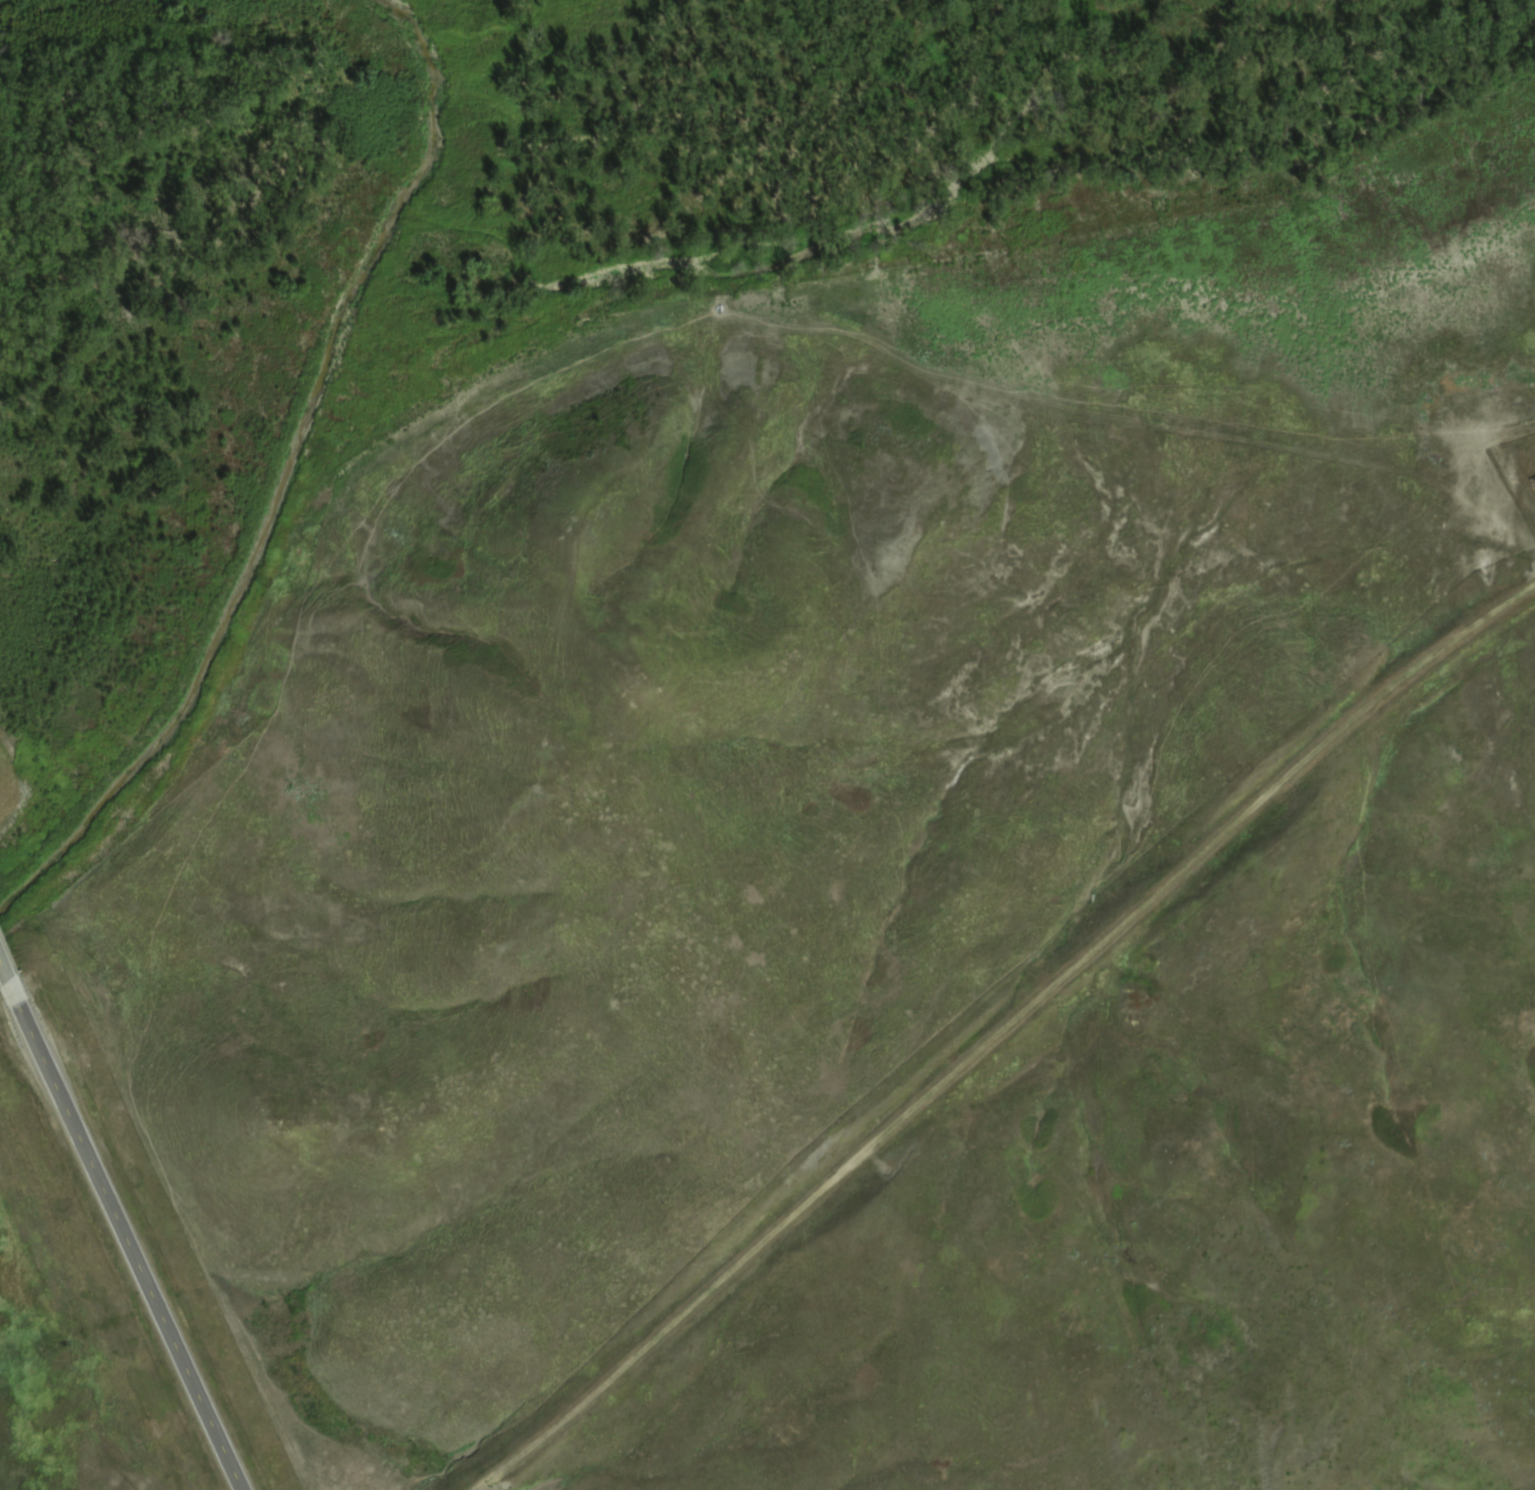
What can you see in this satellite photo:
river: (291, 479)
building: (10, 971)
road: (9, 1005)
road: (999, 1028)
road: (125, 1257)

